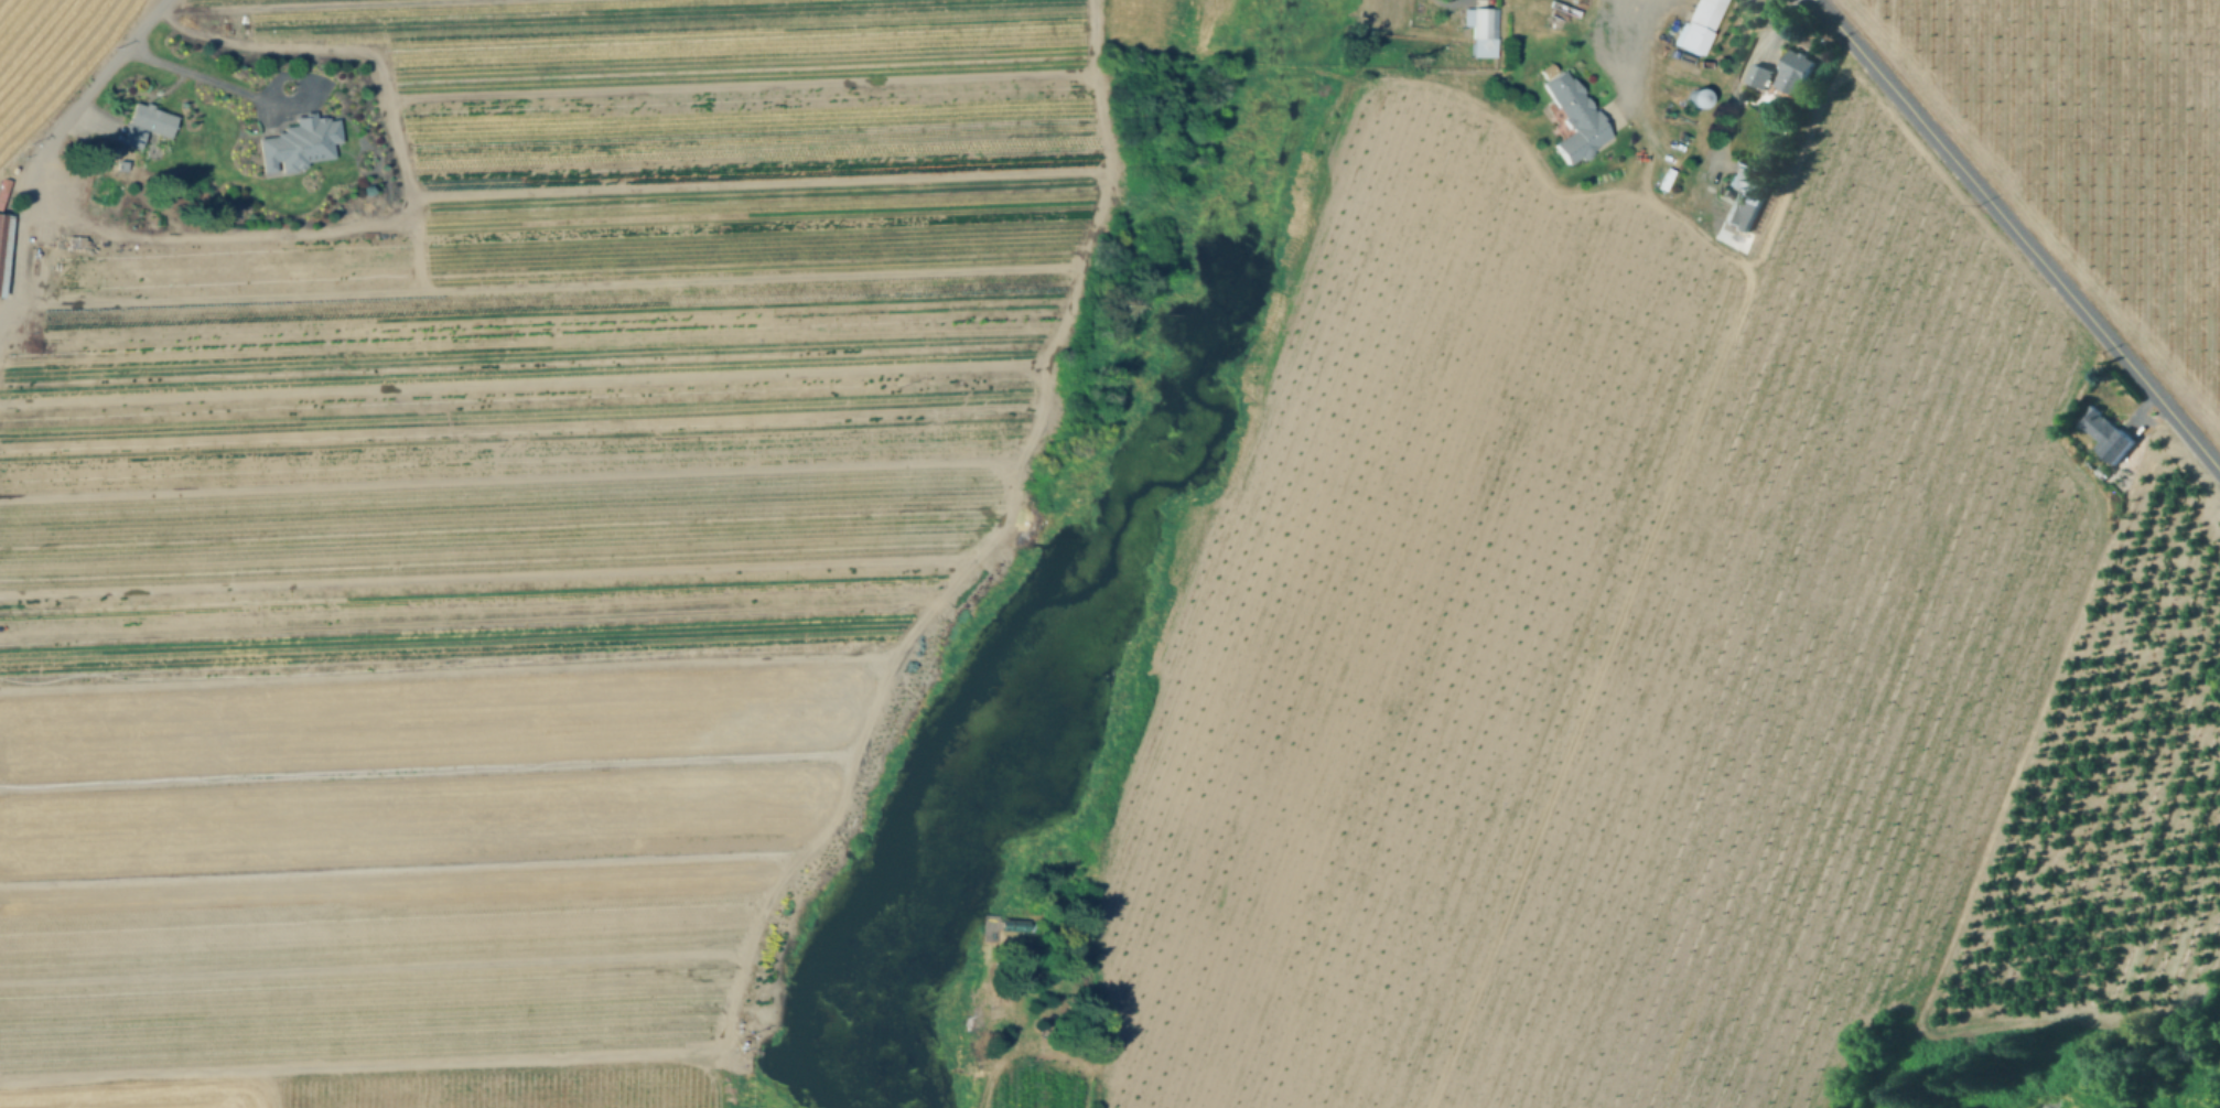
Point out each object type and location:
crop: (579, 15)
road: (1645, 25)
building: (1700, 26)
building: (1484, 33)
crop: (49, 57)
building: (1797, 72)
road: (201, 75)
building: (1761, 75)
road: (1739, 76)
building: (1699, 101)
silo: (1699, 101)
building: (1575, 120)
building: (146, 128)
road: (53, 142)
building: (299, 148)
crop: (2092, 149)
building: (1748, 193)
road: (2019, 233)
building: (4, 250)
building: (2102, 427)
road: (801, 853)
building: (993, 921)
crop: (1039, 1086)
crop: (403, 1090)

